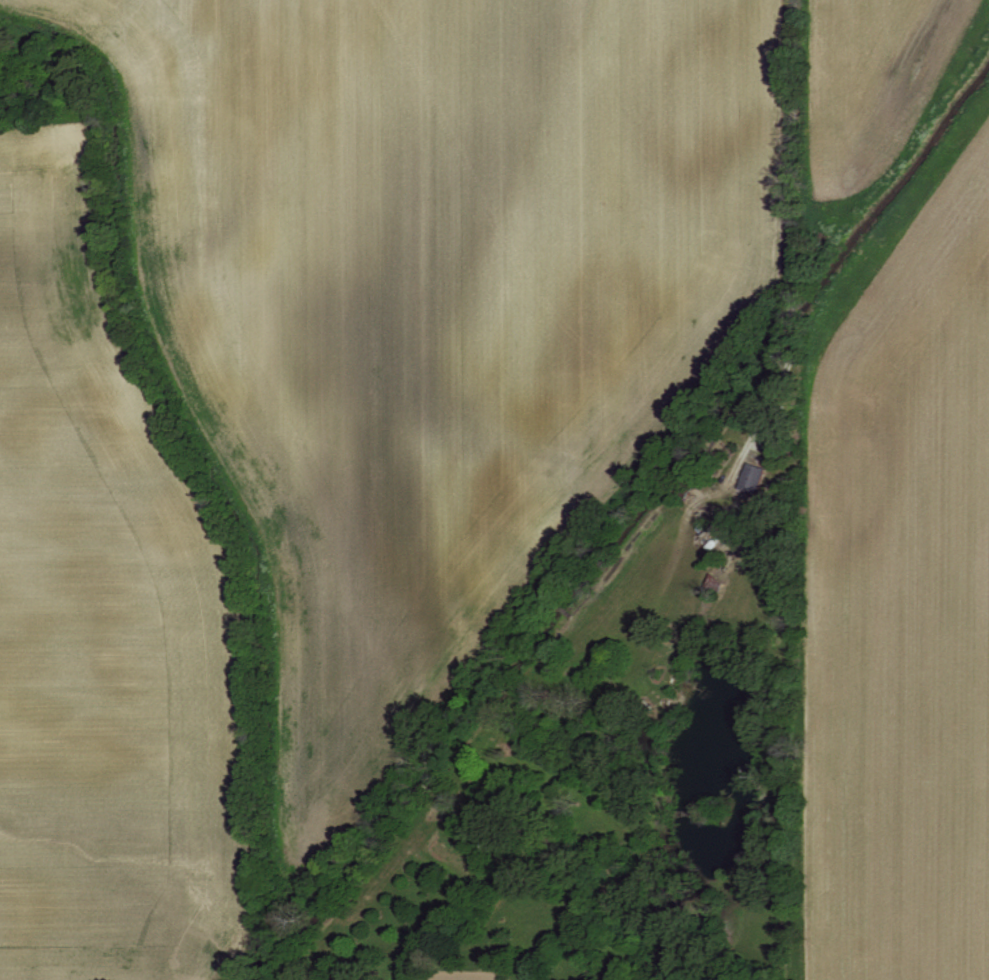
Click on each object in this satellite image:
building: (754, 478)

